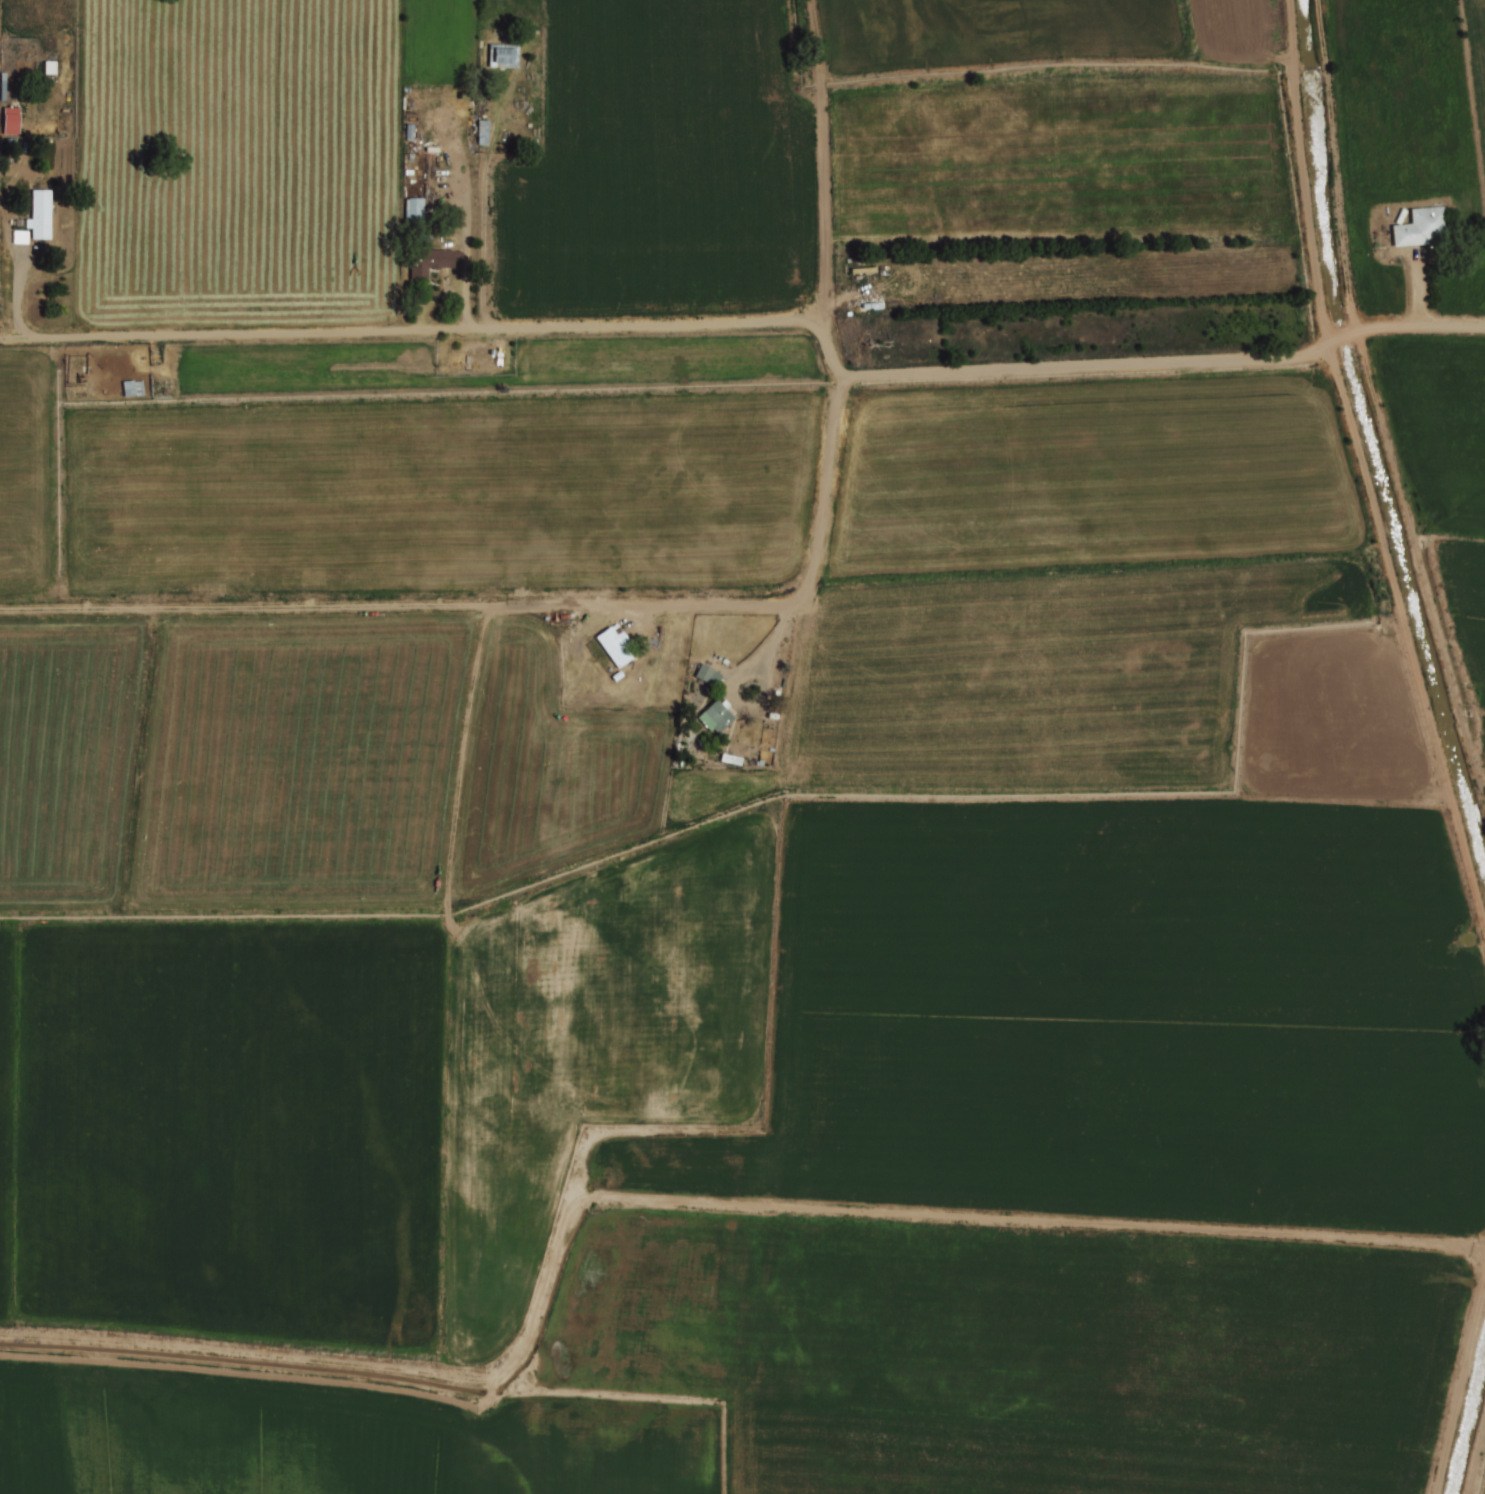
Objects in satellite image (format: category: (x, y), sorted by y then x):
building: (508, 55)
building: (10, 118)
building: (481, 130)
building: (413, 208)
road: (484, 208)
building: (42, 216)
building: (1420, 227)
building: (435, 262)
building: (861, 271)
building: (871, 306)
road: (439, 330)
road: (944, 373)
building: (132, 386)
building: (613, 646)
building: (708, 676)
building: (716, 717)

